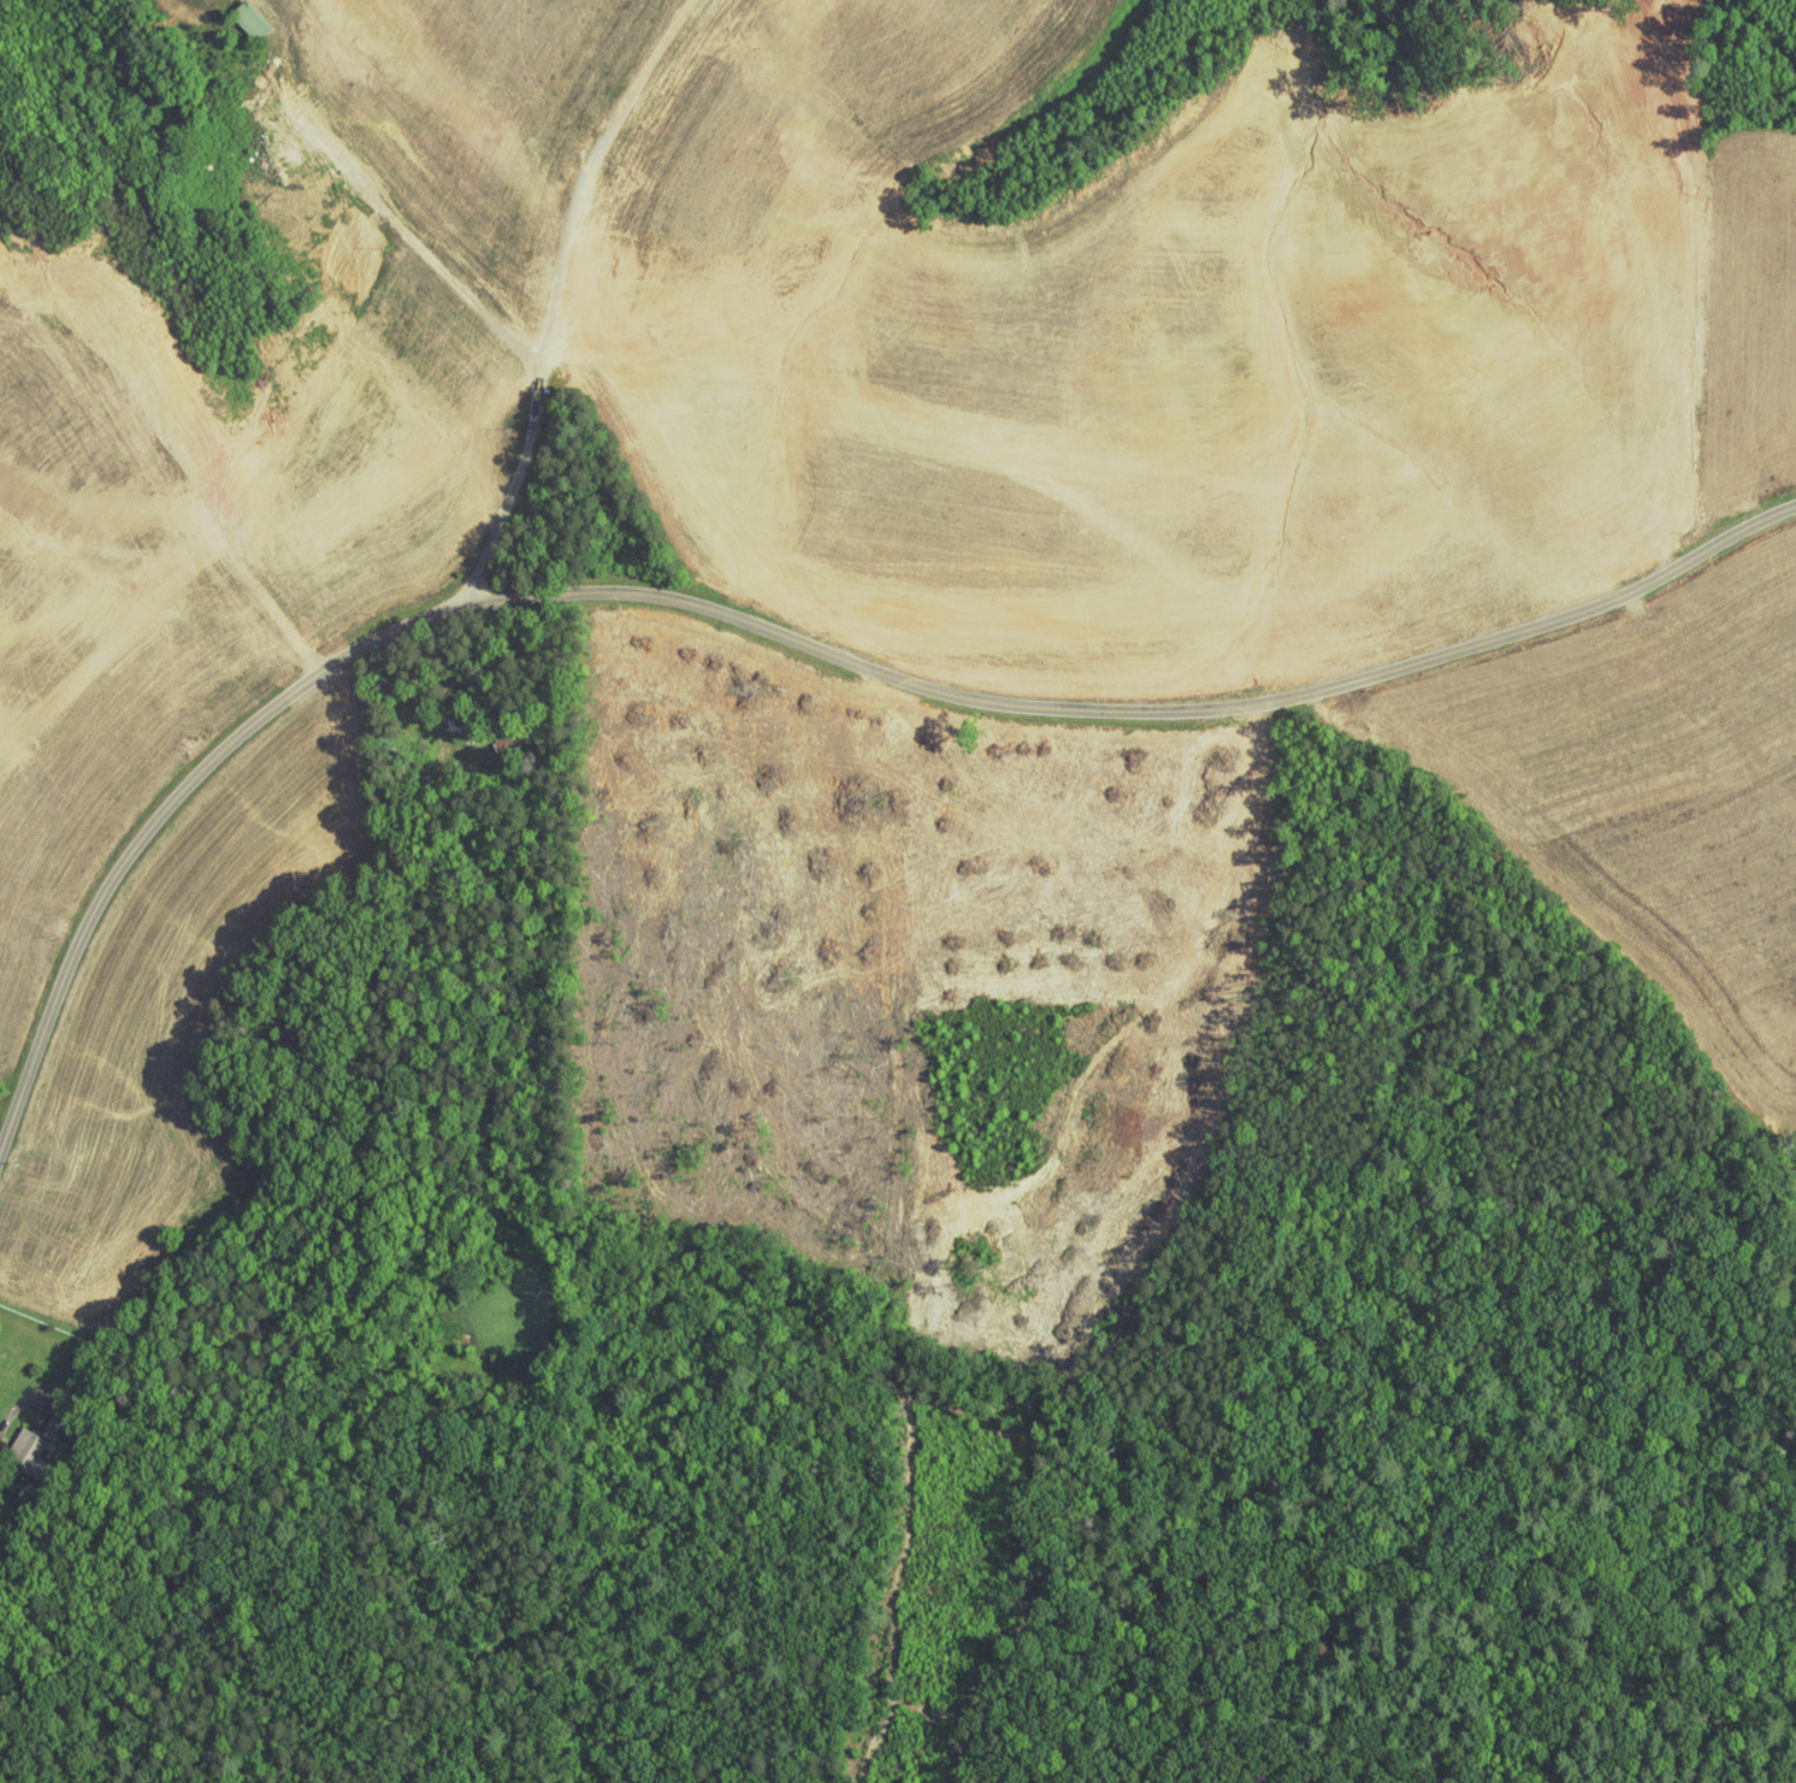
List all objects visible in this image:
road: (540, 148)
road: (474, 303)
road: (144, 474)
road: (779, 638)
building: (20, 1441)

